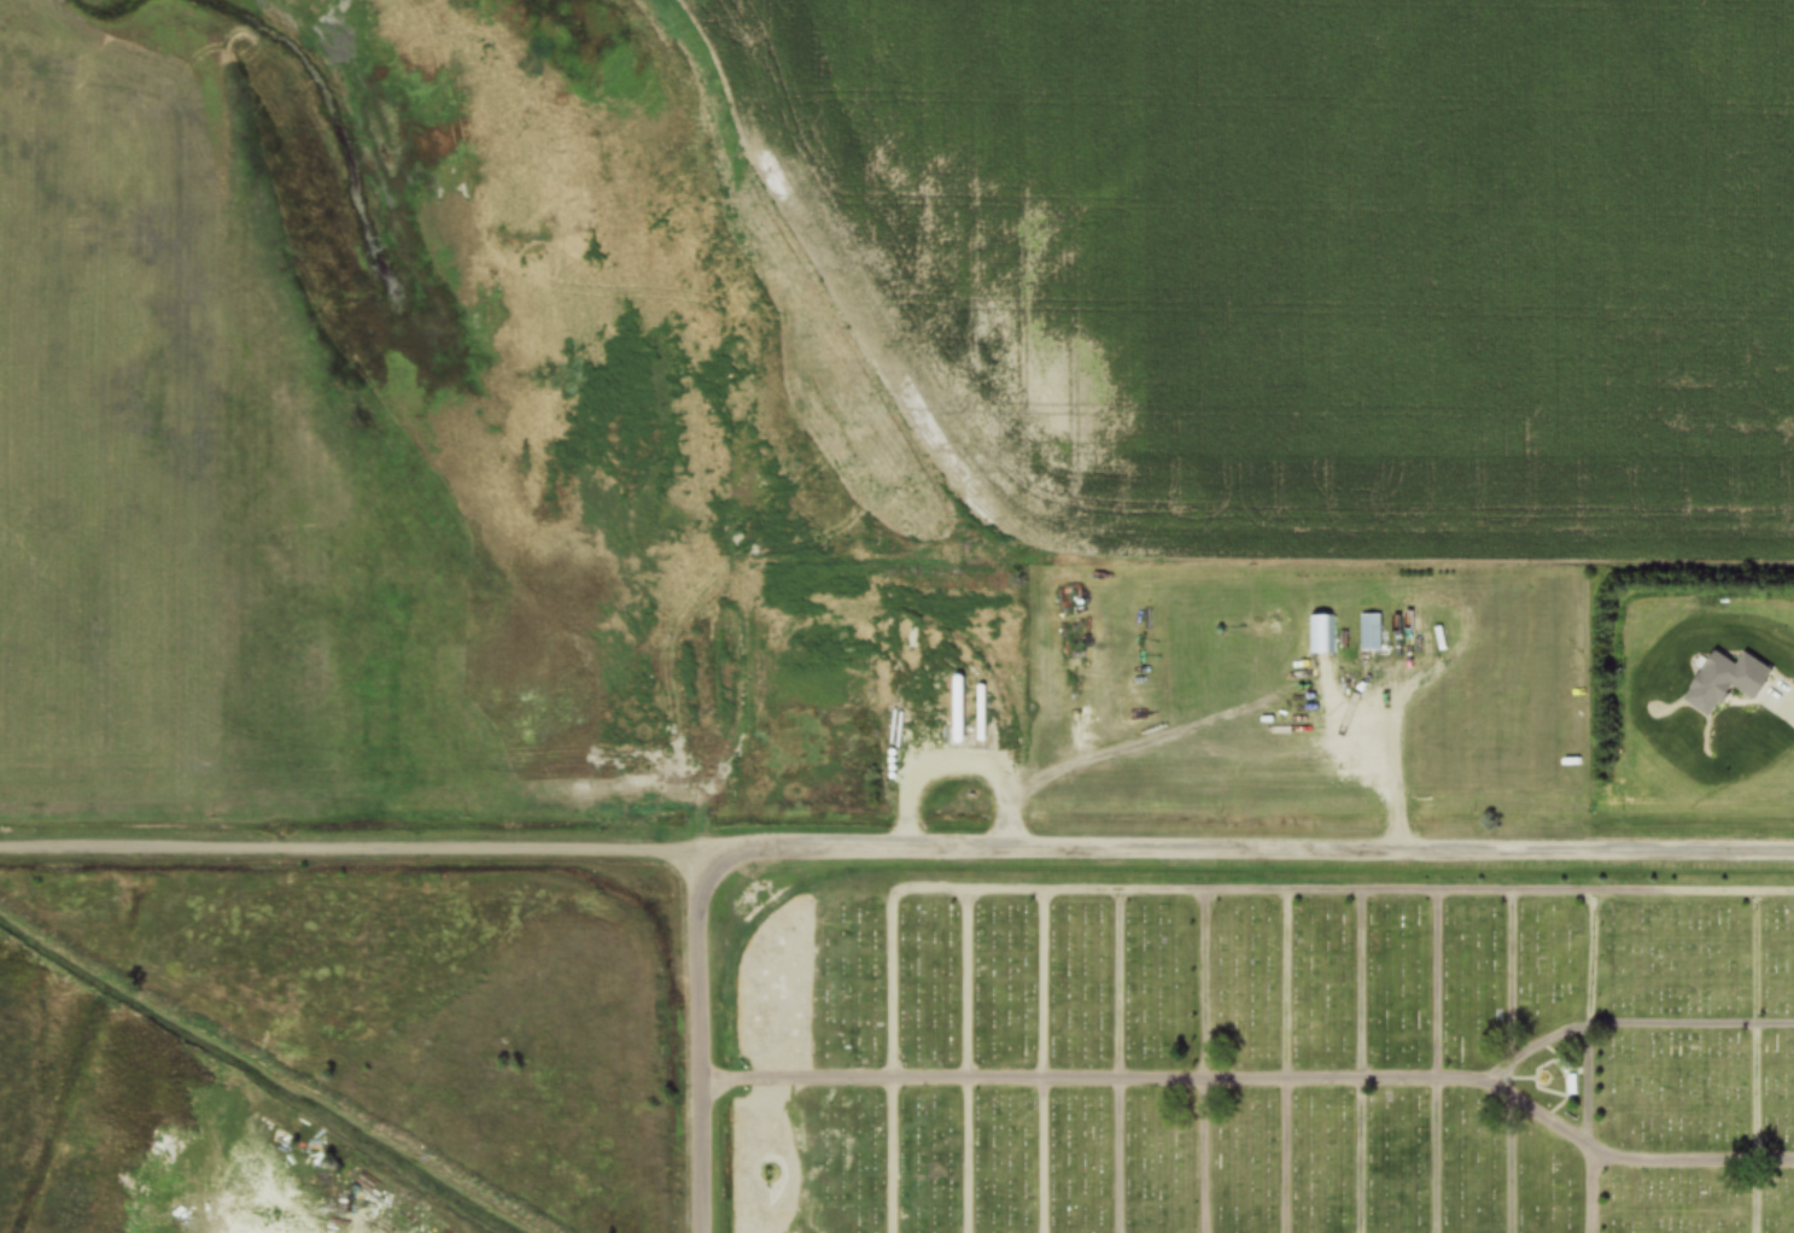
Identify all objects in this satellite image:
road: (1787, 702)
road: (896, 846)
road: (1211, 892)
road: (1638, 1024)
road: (699, 1039)
road: (889, 1060)
road: (963, 1062)
road: (1039, 1062)
road: (1112, 1062)
road: (1199, 1062)
road: (1278, 1062)
road: (1354, 1062)
road: (1431, 1063)
road: (1500, 1063)
road: (1599, 1063)
road: (1764, 1063)
road: (1258, 1085)
building: (1571, 1086)

